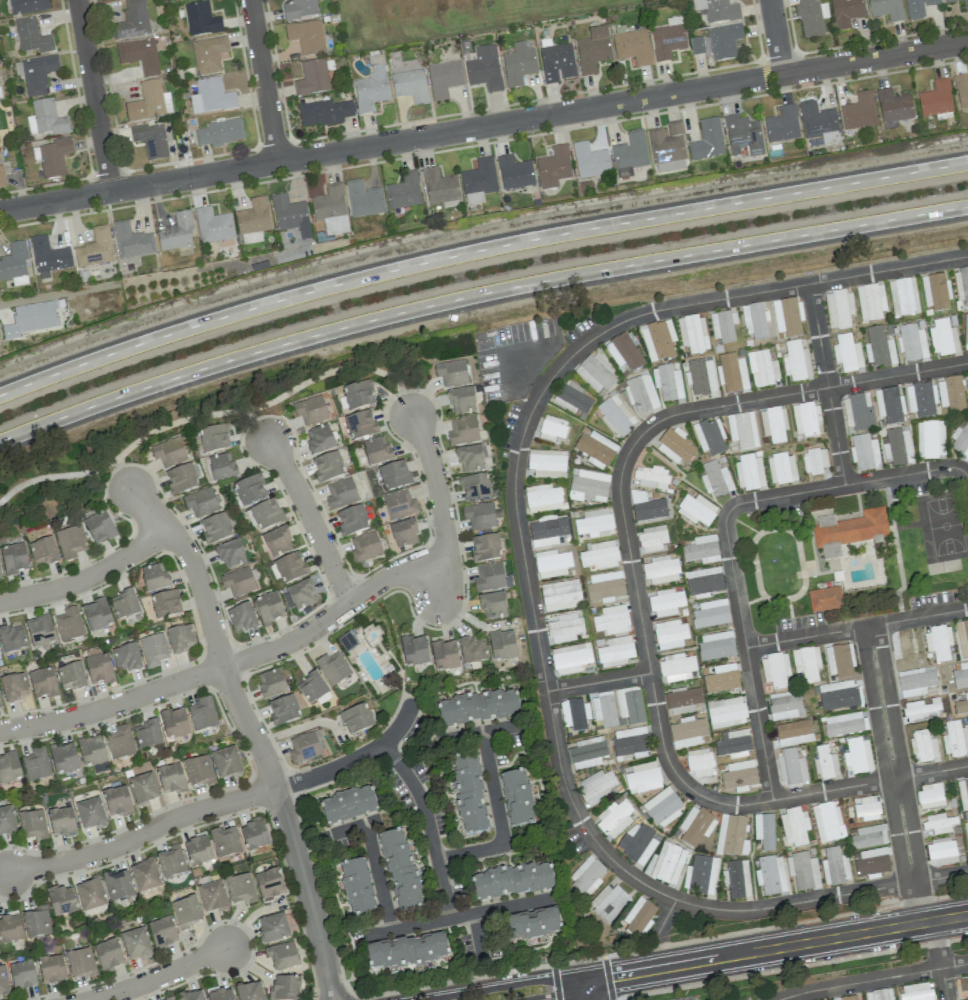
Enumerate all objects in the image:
building: (27, 6)
building: (965, 6)
building: (917, 8)
building: (299, 9)
building: (886, 9)
building: (716, 10)
building: (845, 12)
building: (811, 18)
building: (201, 19)
building: (132, 20)
building: (31, 36)
building: (306, 37)
road: (775, 38)
building: (667, 41)
building: (724, 41)
building: (697, 45)
building: (632, 47)
building: (593, 49)
building: (139, 54)
building: (208, 54)
building: (518, 63)
building: (557, 63)
building: (484, 68)
building: (37, 74)
building: (312, 78)
building: (444, 78)
road: (264, 81)
building: (410, 85)
building: (371, 89)
building: (962, 90)
road: (95, 96)
building: (211, 97)
building: (936, 99)
building: (149, 102)
building: (894, 106)
building: (324, 112)
building: (859, 112)
building: (45, 118)
building: (817, 120)
building: (782, 125)
road: (483, 126)
building: (220, 132)
building: (743, 135)
building: (150, 140)
building: (707, 140)
building: (667, 148)
building: (630, 153)
building: (54, 157)
building: (590, 161)
building: (553, 167)
building: (514, 173)
building: (2, 177)
building: (478, 180)
building: (439, 187)
building: (404, 192)
building: (363, 199)
building: (331, 209)
building: (290, 216)
building: (253, 221)
building: (212, 225)
building: (176, 232)
building: (132, 241)
building: (95, 248)
road: (477, 252)
building: (48, 257)
building: (15, 264)
road: (888, 269)
building: (961, 284)
building: (935, 291)
road: (476, 296)
building: (903, 297)
building: (870, 302)
building: (839, 309)
building: (786, 317)
building: (31, 319)
building: (755, 319)
building: (723, 325)
building: (966, 332)
building: (692, 333)
building: (943, 338)
building: (658, 340)
building: (912, 342)
building: (878, 347)
building: (623, 352)
building: (847, 353)
building: (796, 361)
building: (762, 368)
building: (451, 372)
building: (733, 373)
building: (595, 374)
building: (700, 377)
building: (667, 382)
road: (827, 383)
building: (950, 393)
building: (358, 395)
building: (641, 395)
building: (921, 399)
building: (461, 401)
building: (889, 405)
building: (310, 410)
building: (858, 412)
road: (212, 413)
building: (615, 416)
building: (806, 419)
road: (257, 423)
park: (201, 425)
building: (361, 425)
building: (551, 428)
building: (742, 430)
building: (463, 431)
building: (214, 438)
building: (710, 438)
building: (319, 439)
building: (930, 439)
building: (960, 440)
building: (675, 446)
building: (897, 447)
building: (595, 449)
building: (376, 450)
building: (168, 452)
building: (864, 452)
building: (469, 459)
building: (814, 462)
building: (547, 463)
building: (221, 467)
building: (328, 467)
building: (781, 468)
building: (749, 472)
road: (121, 475)
building: (394, 475)
building: (651, 477)
building: (181, 479)
building: (715, 479)
building: (589, 486)
building: (474, 487)
building: (250, 490)
building: (341, 493)
building: (542, 498)
building: (200, 502)
building: (399, 505)
road: (440, 505)
building: (647, 507)
building: (696, 510)
building: (266, 515)
building: (479, 516)
road: (311, 517)
building: (352, 520)
building: (594, 523)
park: (944, 523)
building: (99, 527)
building: (215, 528)
building: (547, 530)
building: (848, 530)
building: (404, 533)
road: (725, 533)
building: (652, 538)
building: (277, 541)
building: (70, 542)
building: (365, 547)
building: (485, 548)
building: (701, 550)
building: (43, 552)
building: (230, 554)
building: (598, 555)
building: (13, 559)
building: (551, 563)
building: (290, 567)
building: (662, 570)
building: (0, 577)
building: (154, 577)
building: (489, 577)
road: (88, 578)
building: (237, 581)
building: (704, 581)
building: (604, 587)
road: (635, 588)
building: (302, 594)
building: (560, 595)
building: (824, 599)
building: (665, 602)
building: (124, 604)
building: (166, 604)
building: (493, 605)
building: (268, 608)
building: (710, 614)
building: (96, 615)
building: (241, 617)
building: (611, 620)
building: (68, 624)
building: (563, 627)
road: (856, 627)
building: (39, 631)
building: (670, 634)
building: (962, 637)
building: (12, 638)
building: (181, 638)
road: (537, 640)
building: (938, 642)
building: (502, 645)
building: (716, 645)
building: (903, 647)
building: (153, 649)
building: (414, 651)
building: (472, 651)
building: (615, 651)
building: (444, 656)
building: (126, 658)
building: (570, 658)
building: (839, 660)
road: (230, 663)
building: (806, 663)
building: (676, 667)
building: (333, 668)
building: (99, 669)
building: (775, 670)
building: (961, 675)
building: (70, 676)
building: (722, 679)
building: (915, 681)
building: (43, 683)
building: (270, 683)
road: (598, 683)
building: (14, 687)
building: (312, 687)
building: (839, 695)
building: (682, 701)
building: (961, 704)
building: (630, 705)
building: (785, 705)
building: (478, 707)
building: (603, 709)
building: (922, 709)
building: (283, 710)
building: (726, 712)
building: (202, 714)
building: (575, 714)
building: (356, 719)
building: (174, 723)
building: (844, 724)
road: (482, 731)
building: (687, 732)
building: (794, 733)
building: (147, 734)
road: (251, 734)
building: (955, 739)
building: (120, 742)
building: (631, 742)
building: (733, 744)
building: (923, 745)
building: (304, 746)
building: (91, 751)
building: (587, 752)
road: (899, 753)
building: (857, 755)
road: (882, 756)
building: (64, 758)
road: (353, 759)
building: (226, 762)
building: (824, 763)
building: (36, 764)
building: (699, 764)
building: (791, 767)
building: (9, 768)
building: (198, 771)
building: (739, 775)
building: (170, 778)
building: (642, 778)
building: (596, 786)
building: (143, 788)
building: (966, 788)
building: (468, 793)
building: (930, 795)
building: (962, 796)
building: (516, 798)
building: (117, 801)
building: (347, 805)
building: (663, 807)
building: (866, 808)
building: (90, 813)
building: (614, 817)
building: (7, 821)
road: (498, 821)
building: (827, 821)
building: (61, 822)
building: (938, 824)
building: (32, 825)
road: (354, 825)
road: (428, 825)
building: (696, 826)
building: (794, 826)
building: (763, 831)
road: (142, 833)
building: (966, 833)
building: (254, 834)
building: (731, 836)
building: (868, 836)
building: (225, 841)
building: (637, 843)
building: (198, 850)
building: (941, 852)
building: (171, 862)
building: (668, 863)
building: (873, 863)
building: (834, 866)
building: (400, 869)
building: (803, 871)
building: (700, 874)
building: (145, 875)
building: (586, 875)
building: (770, 875)
road: (377, 876)
road: (941, 877)
building: (736, 878)
building: (512, 880)
building: (269, 884)
building: (117, 885)
building: (357, 886)
building: (240, 889)
building: (90, 895)
building: (212, 896)
building: (61, 900)
building: (608, 902)
road: (917, 902)
building: (186, 912)
road: (458, 916)
building: (639, 916)
building: (36, 922)
building: (530, 924)
building: (273, 927)
building: (10, 928)
building: (162, 933)
road: (477, 937)
building: (135, 943)
road: (937, 944)
road: (770, 949)
building: (406, 950)
building: (108, 955)
building: (282, 956)
building: (80, 963)
road: (954, 965)
building: (51, 969)
building: (22, 974)
road: (160, 975)
building: (3, 980)
road: (860, 982)
road: (943, 984)
building: (963, 986)
building: (285, 988)
road: (501, 988)
road: (594, 990)
building: (249, 991)
road: (573, 991)
building: (915, 992)
building: (220, 994)
building: (879, 994)
building: (191, 995)
road: (549, 995)
building: (848, 998)
building: (170, 999)

